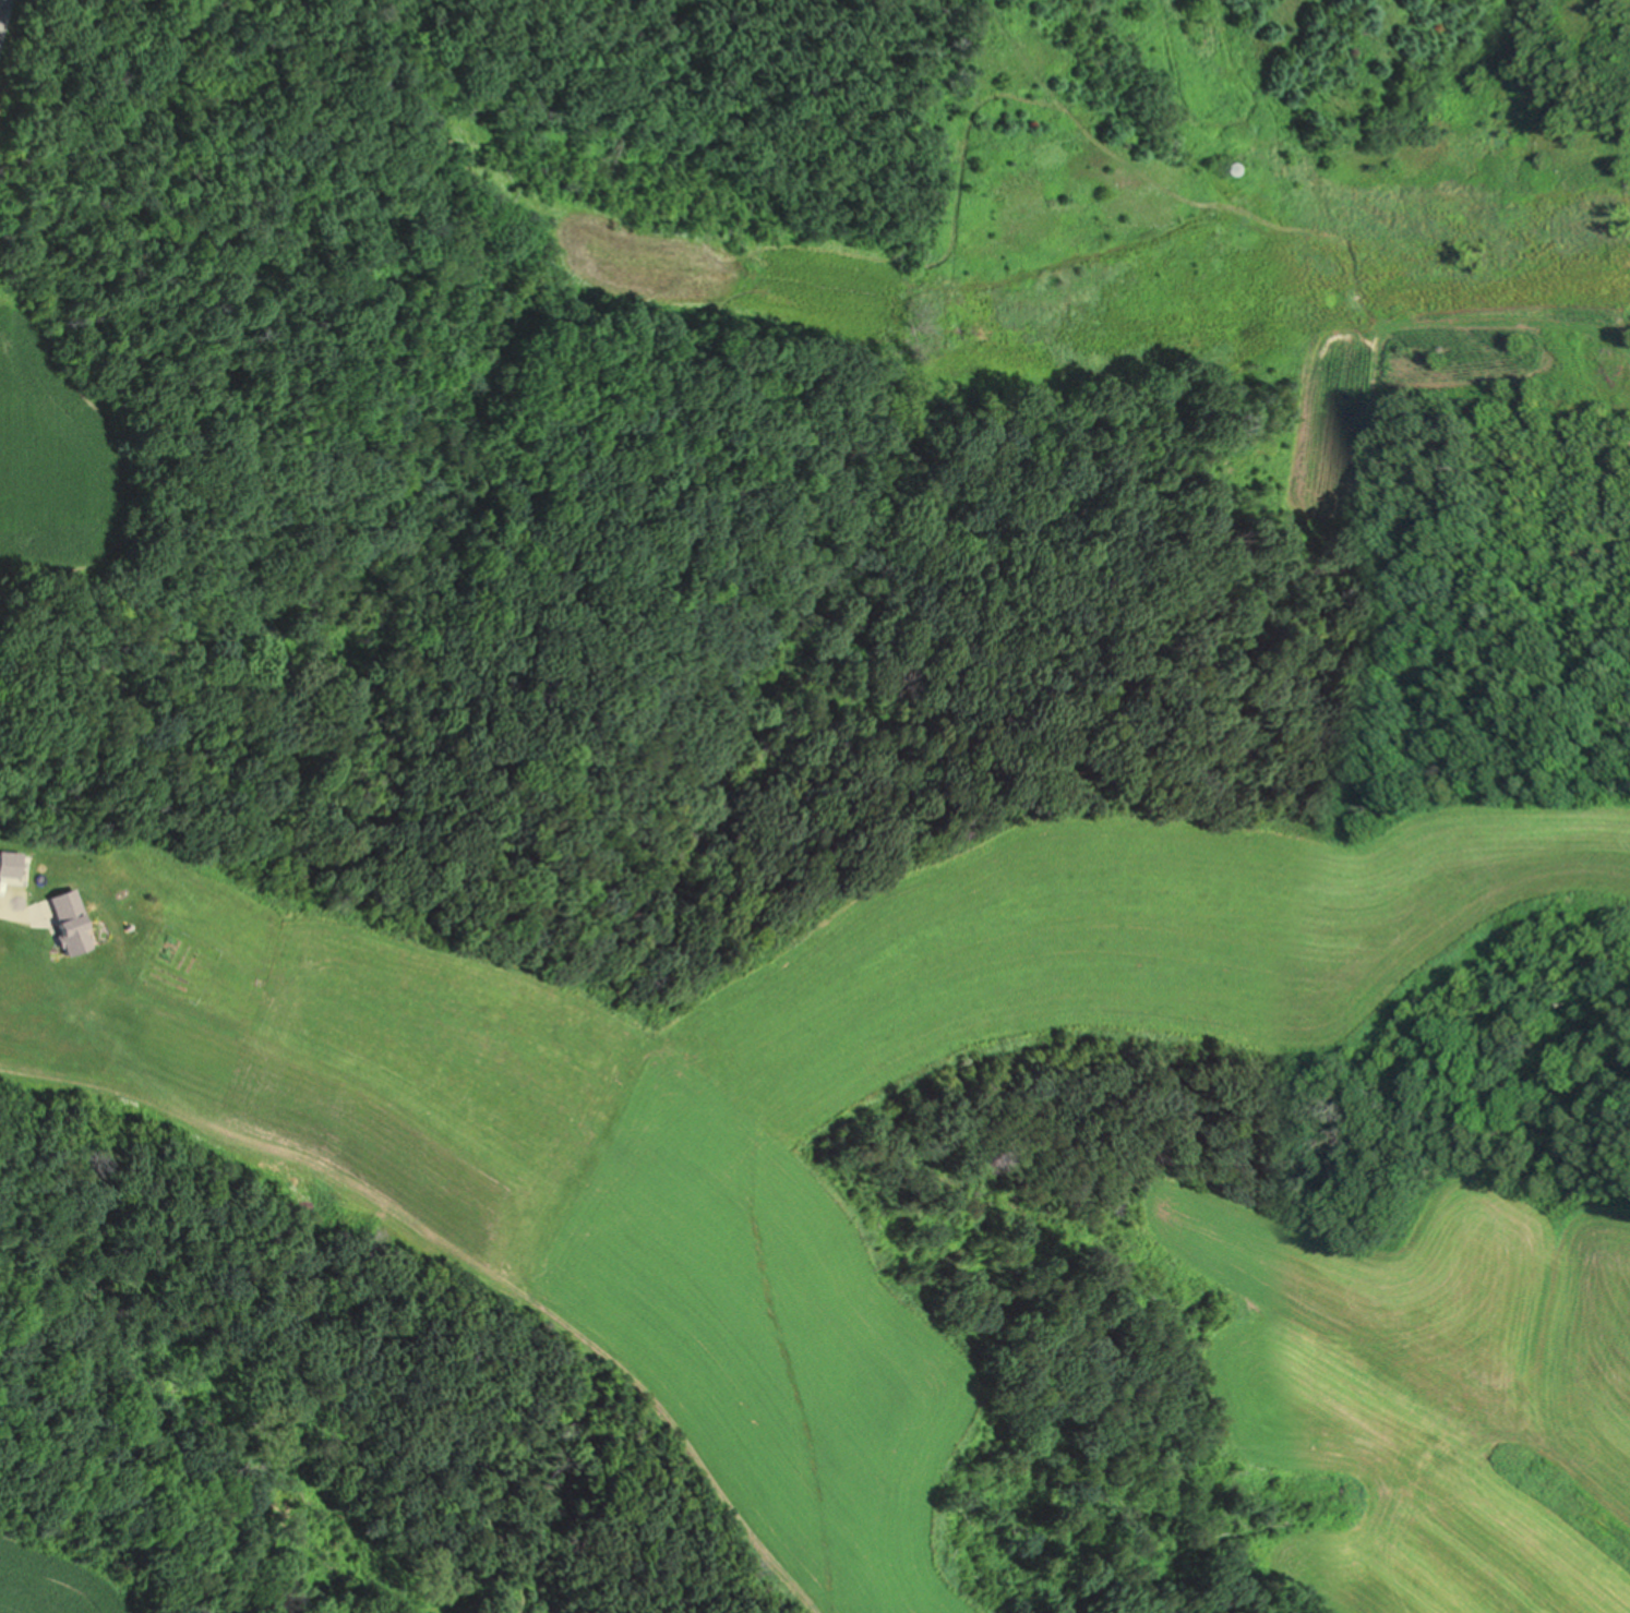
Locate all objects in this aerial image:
road: (9, 38)
building: (68, 922)
road: (458, 1255)

